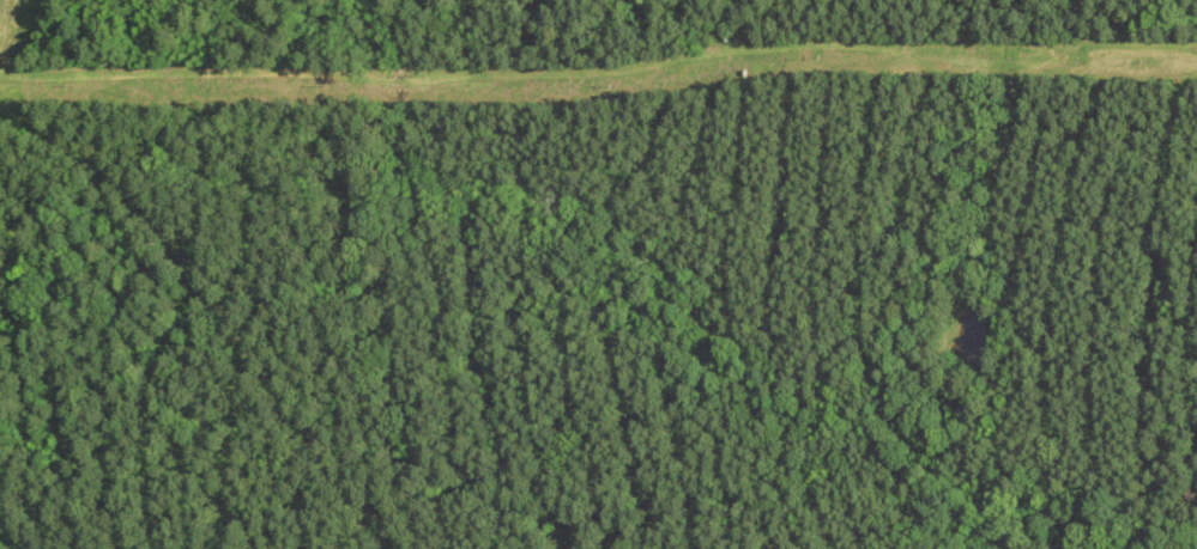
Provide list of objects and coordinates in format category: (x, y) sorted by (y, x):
road: (599, 77)

